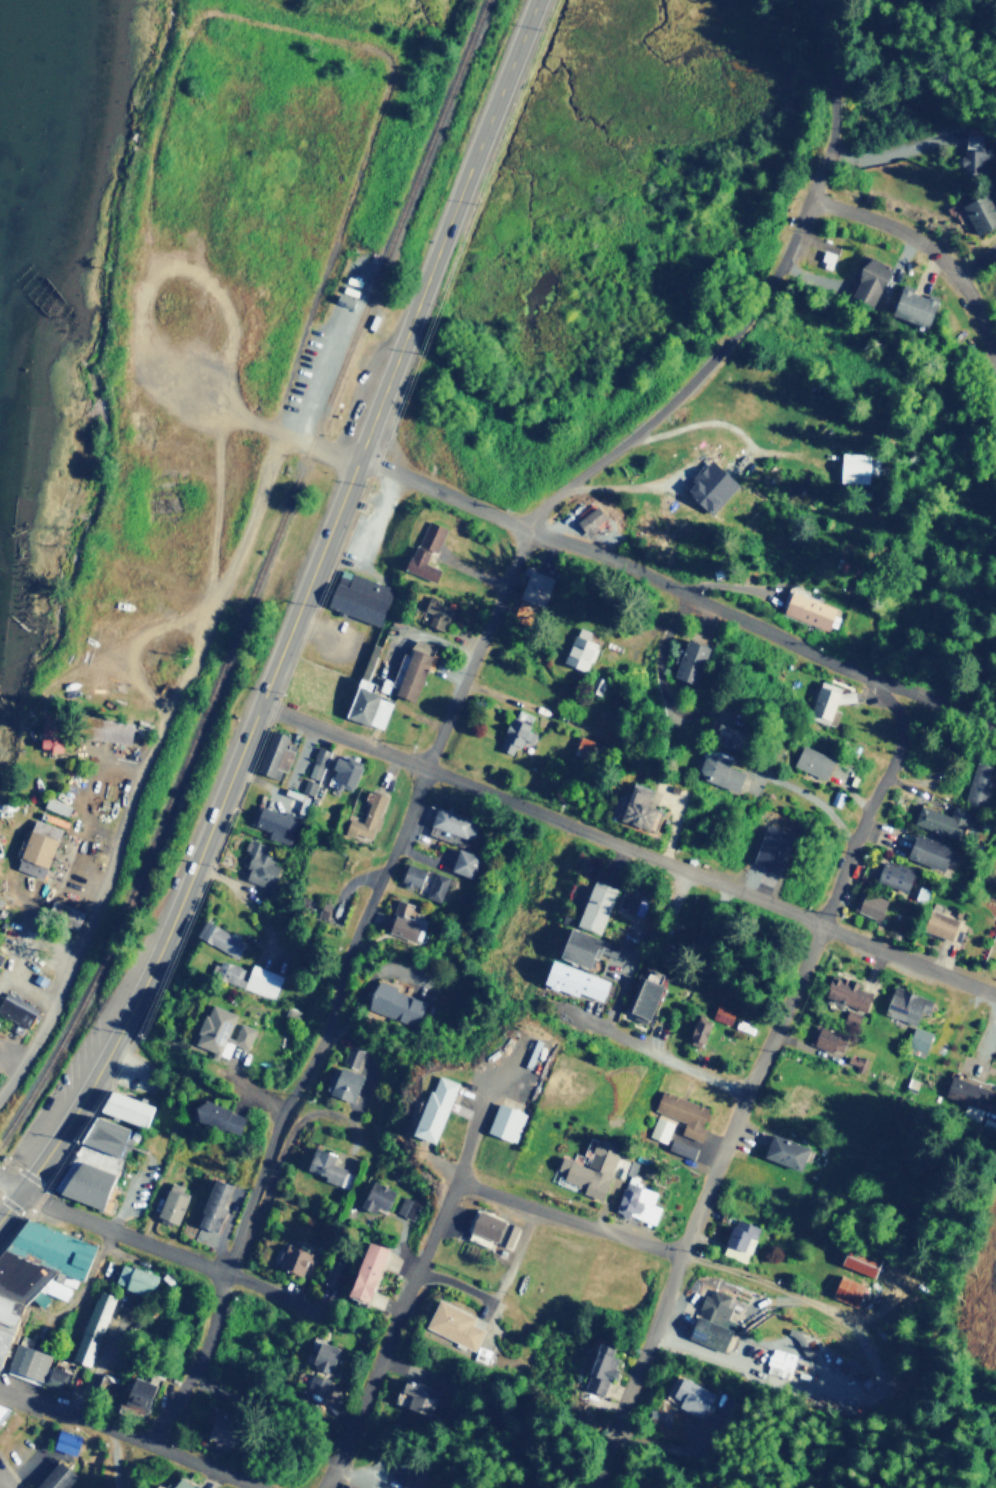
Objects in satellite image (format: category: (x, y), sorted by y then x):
road: (969, 16)
road: (366, 150)
building: (971, 154)
road: (471, 160)
building: (981, 210)
road: (931, 248)
building: (870, 281)
road: (758, 303)
building: (915, 305)
building: (853, 466)
building: (711, 484)
road: (443, 494)
road: (338, 513)
building: (590, 519)
building: (426, 550)
railway: (262, 580)
building: (535, 586)
building: (359, 595)
building: (809, 609)
building: (438, 611)
road: (760, 628)
building: (580, 647)
road: (90, 658)
building: (689, 660)
building: (410, 672)
road: (661, 681)
building: (848, 695)
building: (824, 698)
building: (368, 707)
building: (110, 729)
building: (516, 730)
building: (53, 733)
road: (160, 735)
building: (581, 746)
building: (276, 753)
building: (815, 760)
building: (346, 768)
building: (314, 769)
building: (721, 770)
building: (979, 781)
building: (57, 804)
building: (642, 806)
building: (366, 814)
building: (938, 821)
building: (276, 823)
building: (449, 823)
building: (773, 846)
building: (39, 847)
road: (630, 847)
building: (995, 849)
building: (929, 851)
building: (463, 861)
building: (259, 864)
building: (895, 874)
building: (412, 875)
building: (436, 885)
building: (630, 897)
building: (872, 904)
building: (597, 905)
building: (405, 919)
building: (941, 923)
building: (219, 936)
building: (581, 946)
building: (1, 954)
road: (150, 973)
building: (576, 979)
road: (341, 988)
building: (847, 990)
road: (366, 991)
building: (395, 1002)
building: (906, 1004)
building: (17, 1008)
building: (851, 1016)
building: (221, 1030)
building: (699, 1032)
building: (829, 1038)
building: (920, 1038)
road: (655, 1053)
building: (350, 1055)
road: (756, 1077)
building: (346, 1083)
building: (967, 1091)
road: (261, 1098)
parking lot: (57, 1100)
building: (436, 1106)
building: (127, 1107)
building: (683, 1111)
building: (219, 1116)
road: (337, 1118)
building: (505, 1120)
building: (660, 1127)
building: (681, 1147)
building: (786, 1150)
building: (325, 1164)
building: (87, 1167)
building: (592, 1167)
road: (272, 1176)
road: (11, 1185)
building: (637, 1194)
building: (377, 1195)
building: (172, 1202)
building: (214, 1203)
building: (406, 1206)
parking lot: (128, 1207)
building: (494, 1228)
building: (741, 1238)
road: (656, 1247)
road: (167, 1249)
building: (293, 1256)
building: (37, 1269)
building: (368, 1271)
building: (134, 1278)
building: (848, 1289)
road: (410, 1295)
building: (713, 1320)
building: (453, 1323)
building: (92, 1326)
building: (779, 1362)
building: (37, 1365)
building: (321, 1366)
building: (602, 1368)
building: (418, 1394)
building: (691, 1395)
building: (137, 1396)
building: (1, 1406)
building: (221, 1428)
road: (128, 1435)
building: (66, 1440)
road: (651, 1448)
building: (57, 1476)
building: (181, 1484)
road: (1, 1485)
building: (351, 1486)

